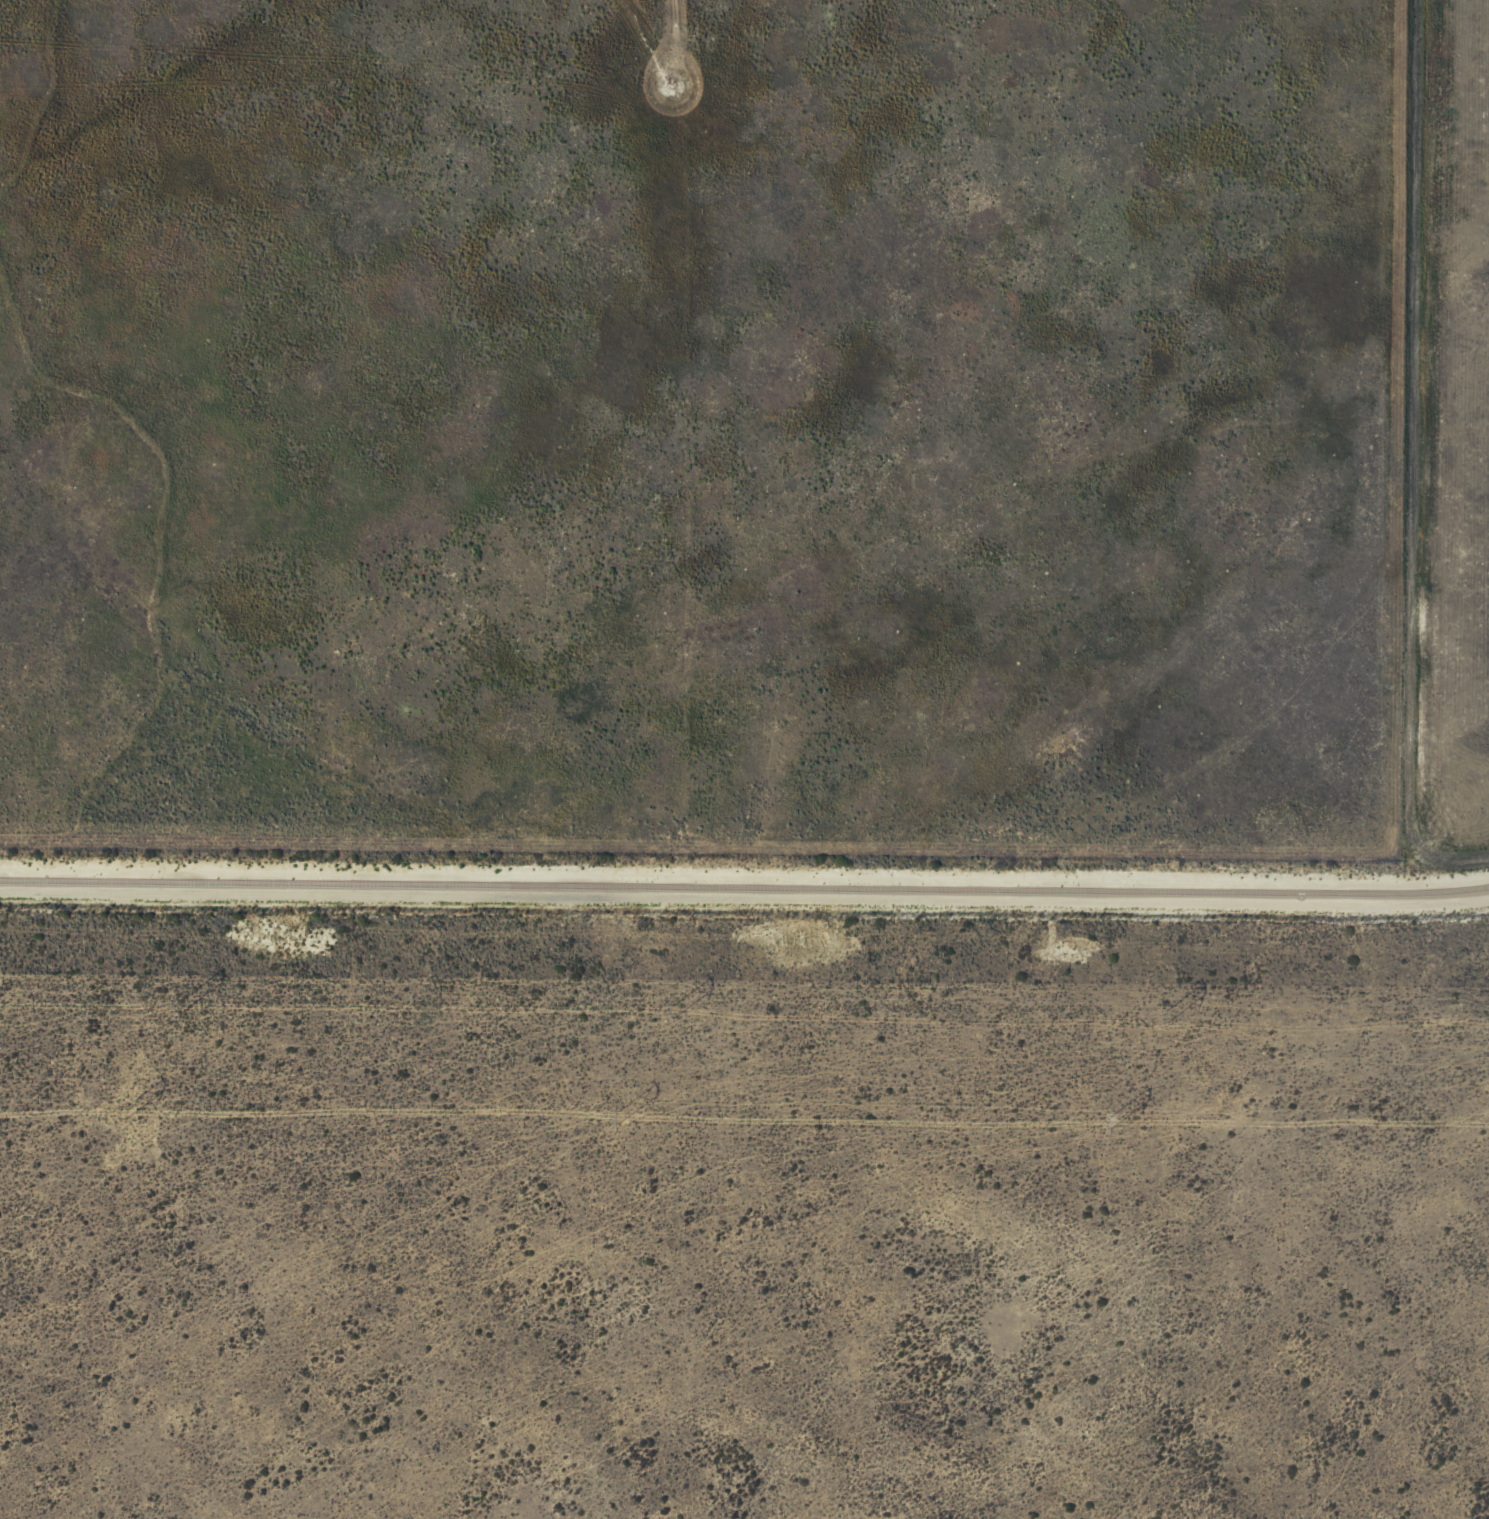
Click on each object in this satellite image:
railway: (744, 889)
power tower: (181, 1005)
power tower: (673, 1007)
power tower: (1168, 1013)
power tower: (123, 1109)
power tower: (619, 1114)
power tower: (1108, 1119)

